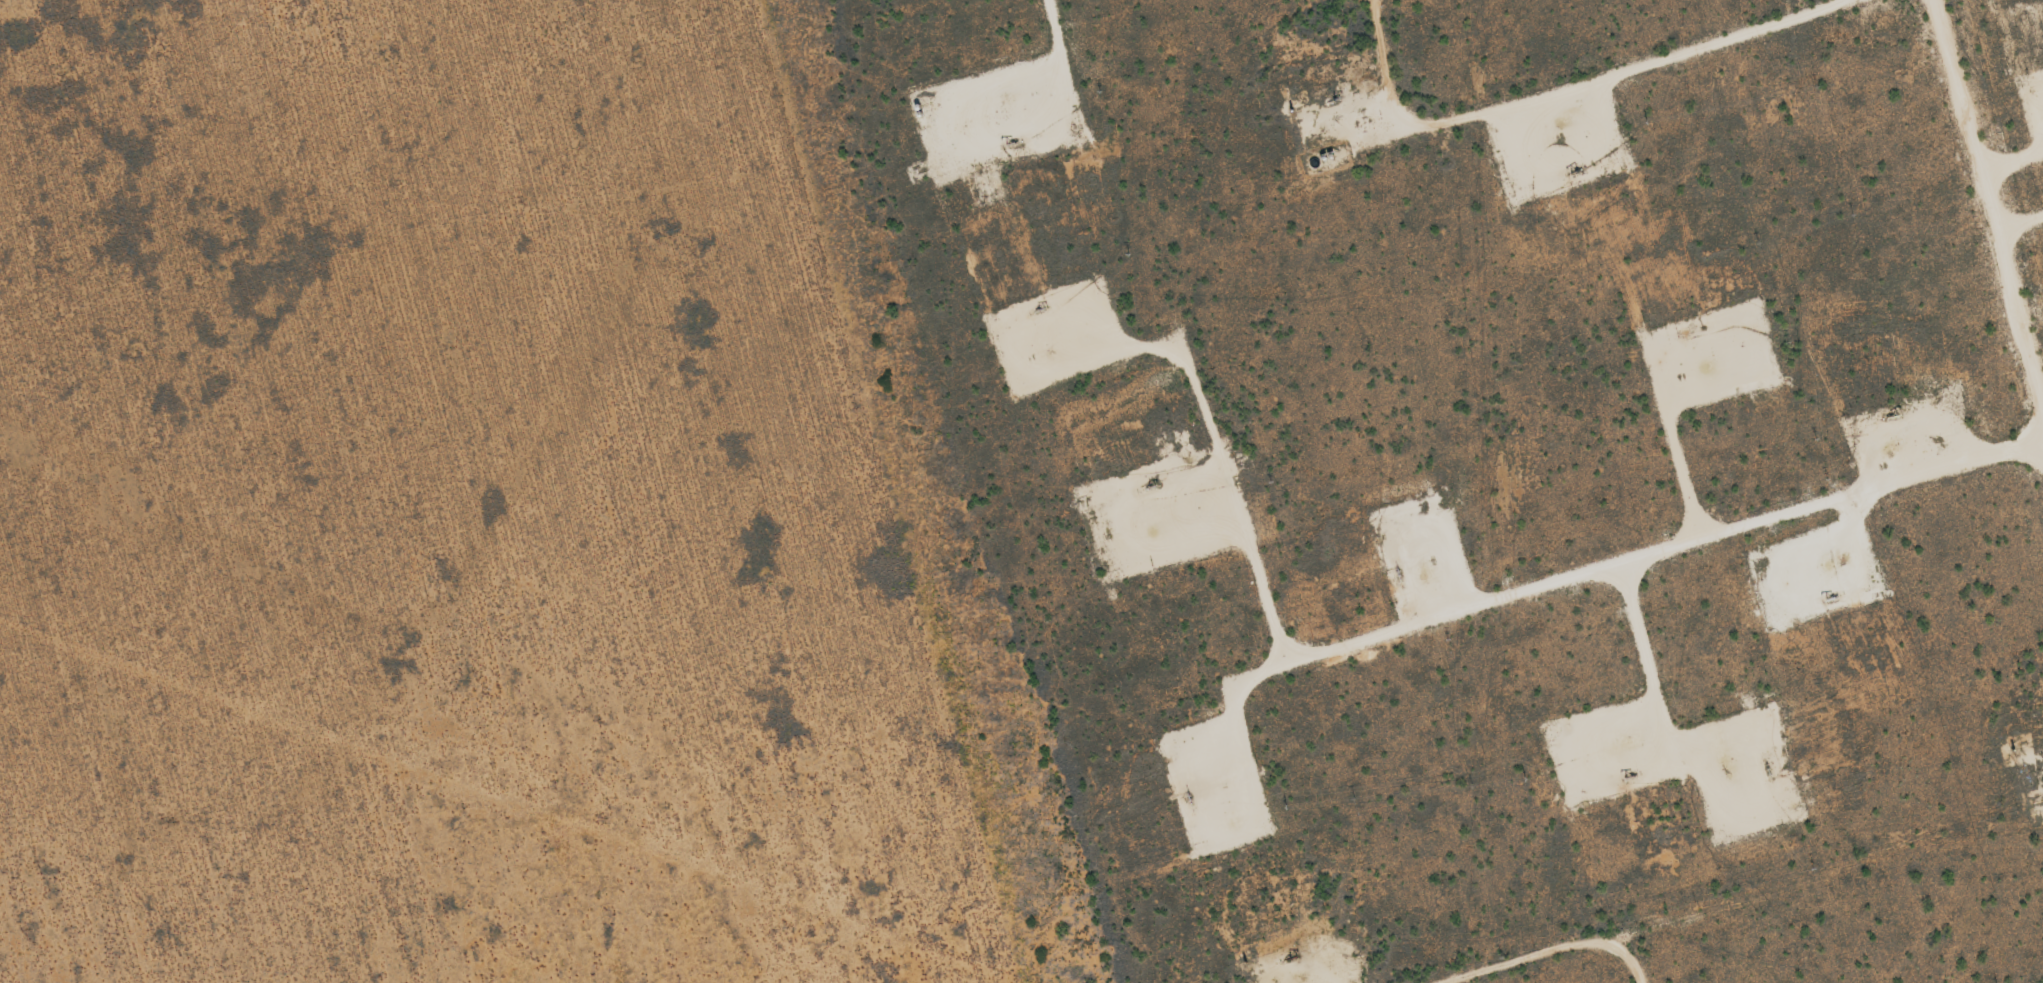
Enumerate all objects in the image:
road: (1990, 205)

